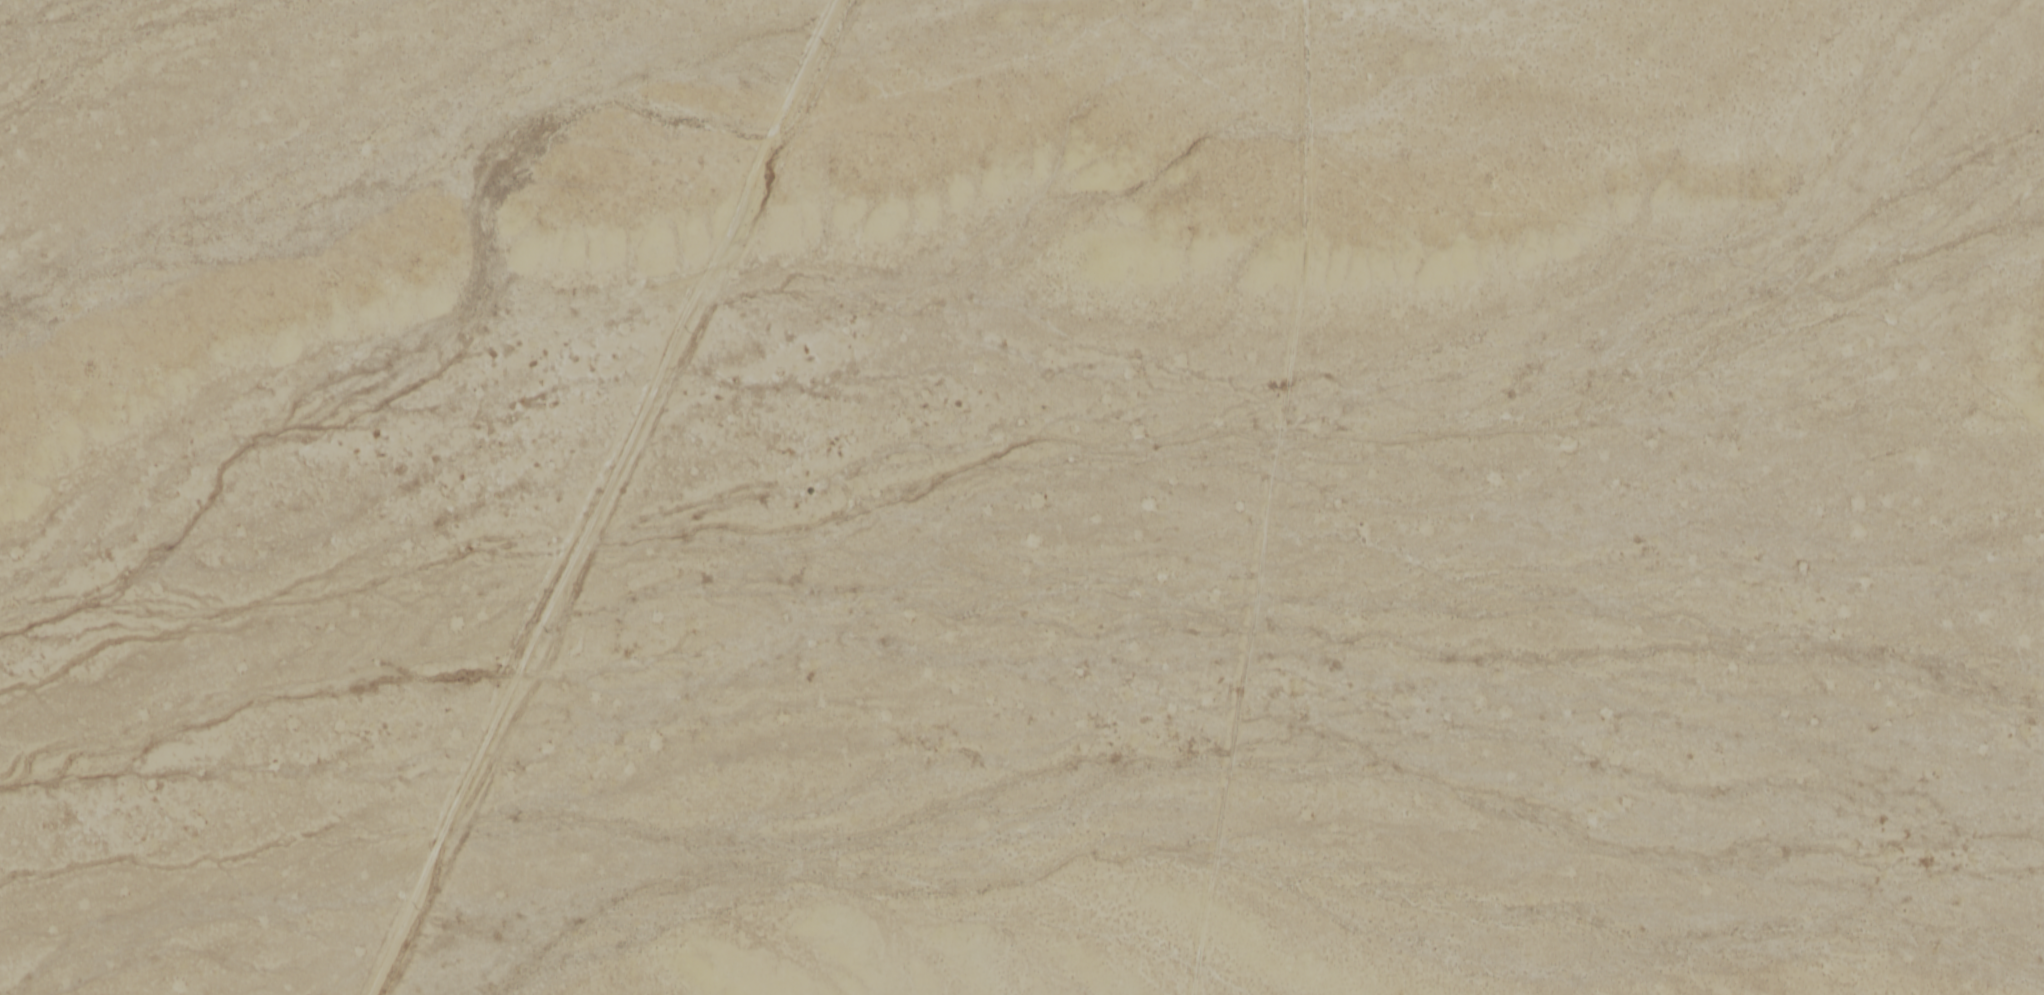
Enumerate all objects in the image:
road: (613, 497)

